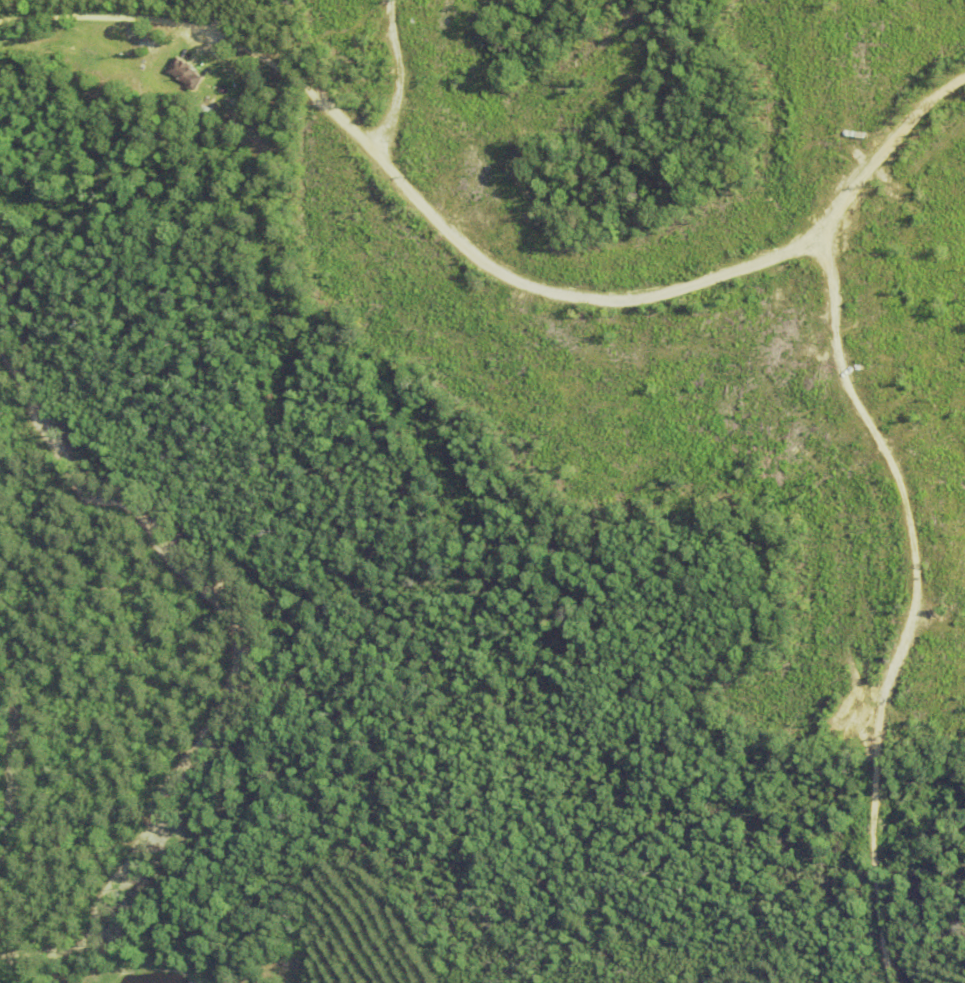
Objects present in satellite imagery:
building: (185, 74)
road: (481, 262)

